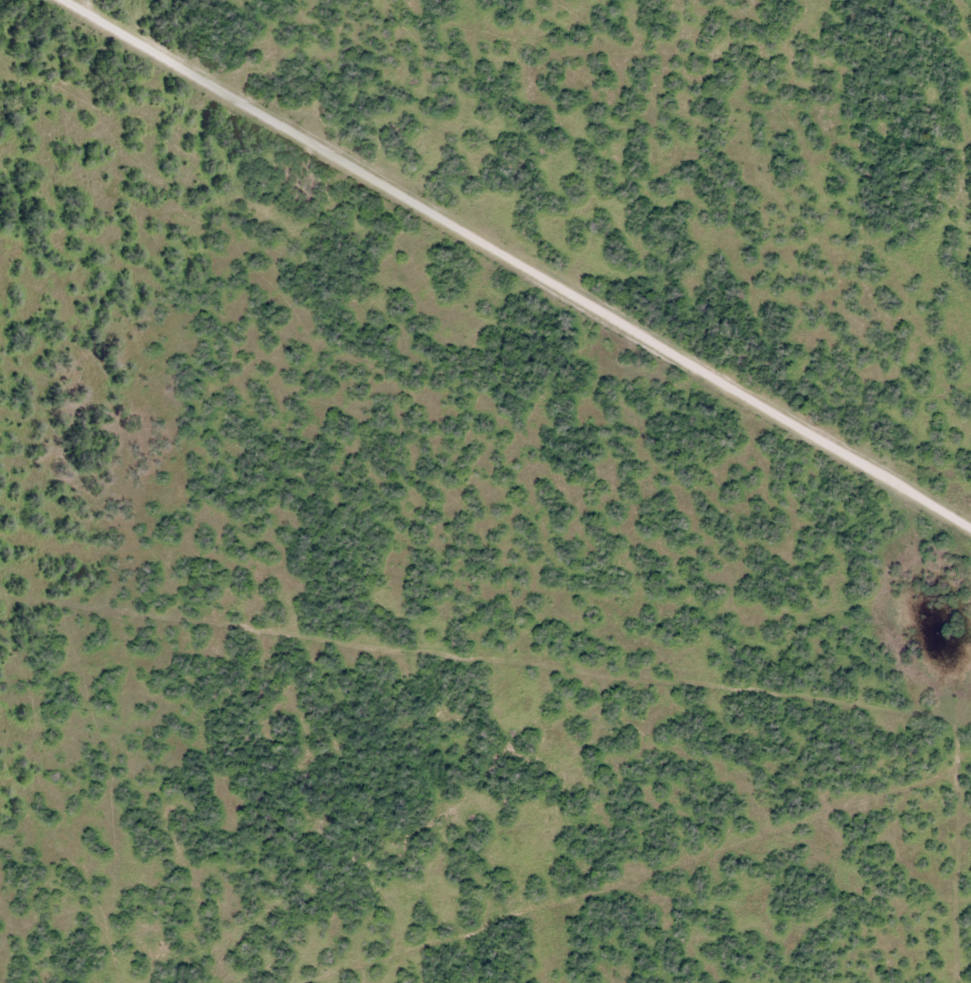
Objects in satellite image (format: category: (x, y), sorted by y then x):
road: (487, 286)
road: (778, 290)

